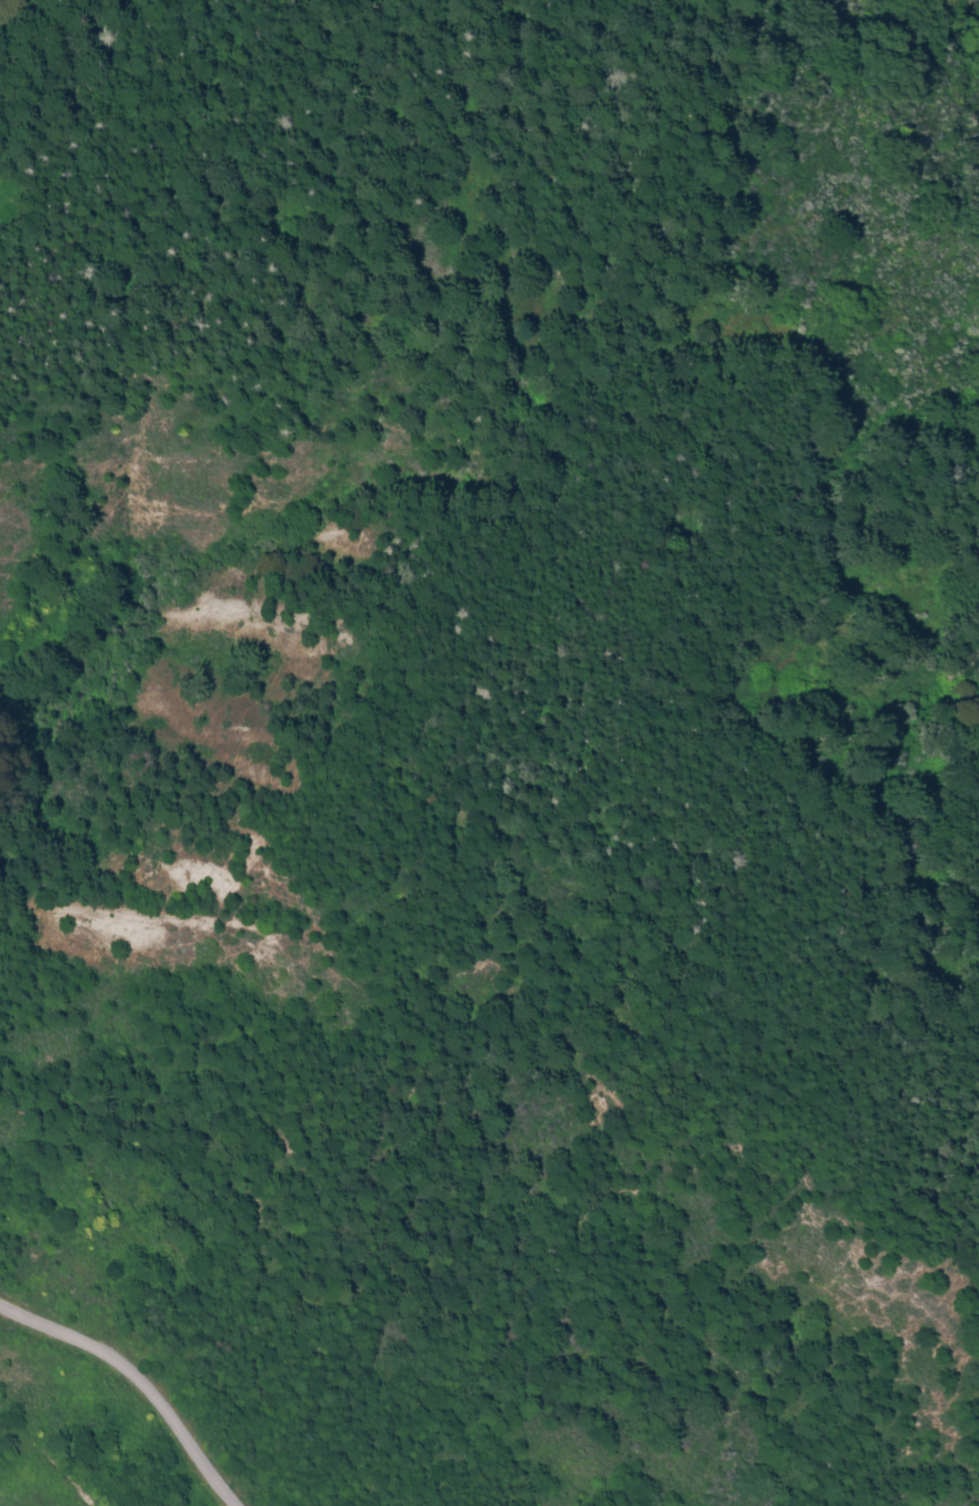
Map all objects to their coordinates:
road: (139, 1381)

